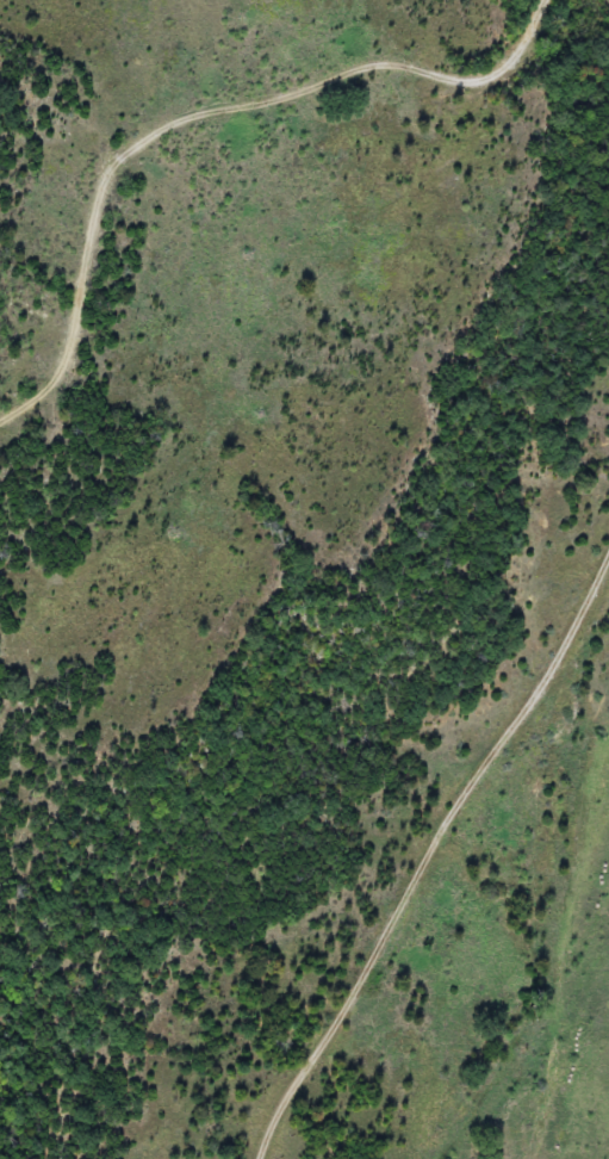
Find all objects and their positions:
road: (434, 856)
airport: (584, 1050)

